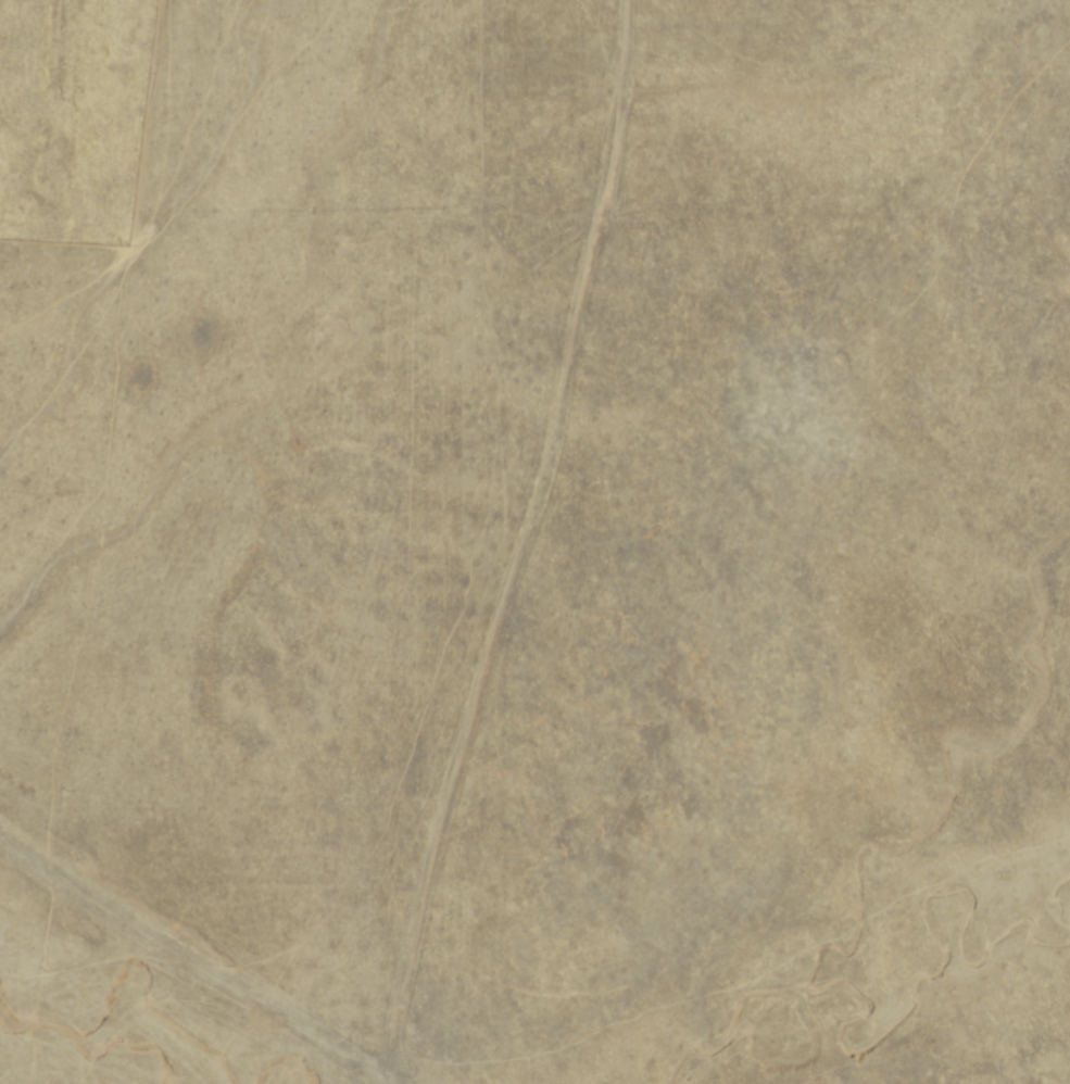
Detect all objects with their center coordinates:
road: (51, 108)
road: (282, 220)
road: (521, 543)
road: (274, 1016)

